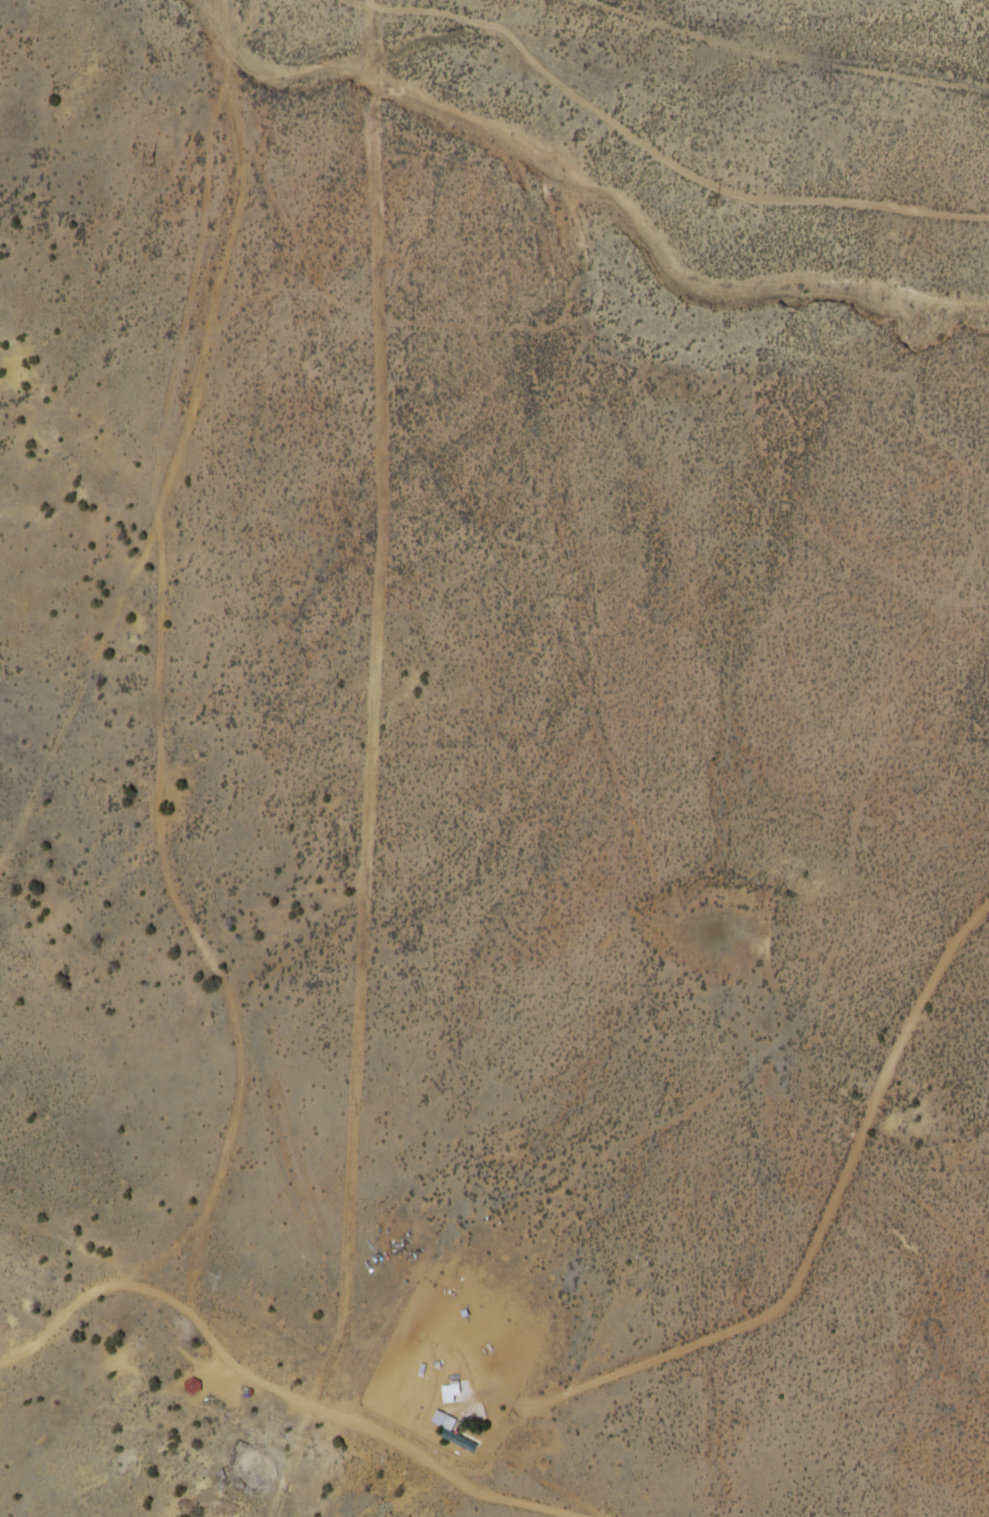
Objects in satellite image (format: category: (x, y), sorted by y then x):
road: (845, 31)
road: (650, 152)
power tower: (144, 161)
power tower: (707, 203)
road: (156, 740)
building: (193, 1386)
building: (450, 1391)
road: (324, 1408)
building: (448, 1411)

